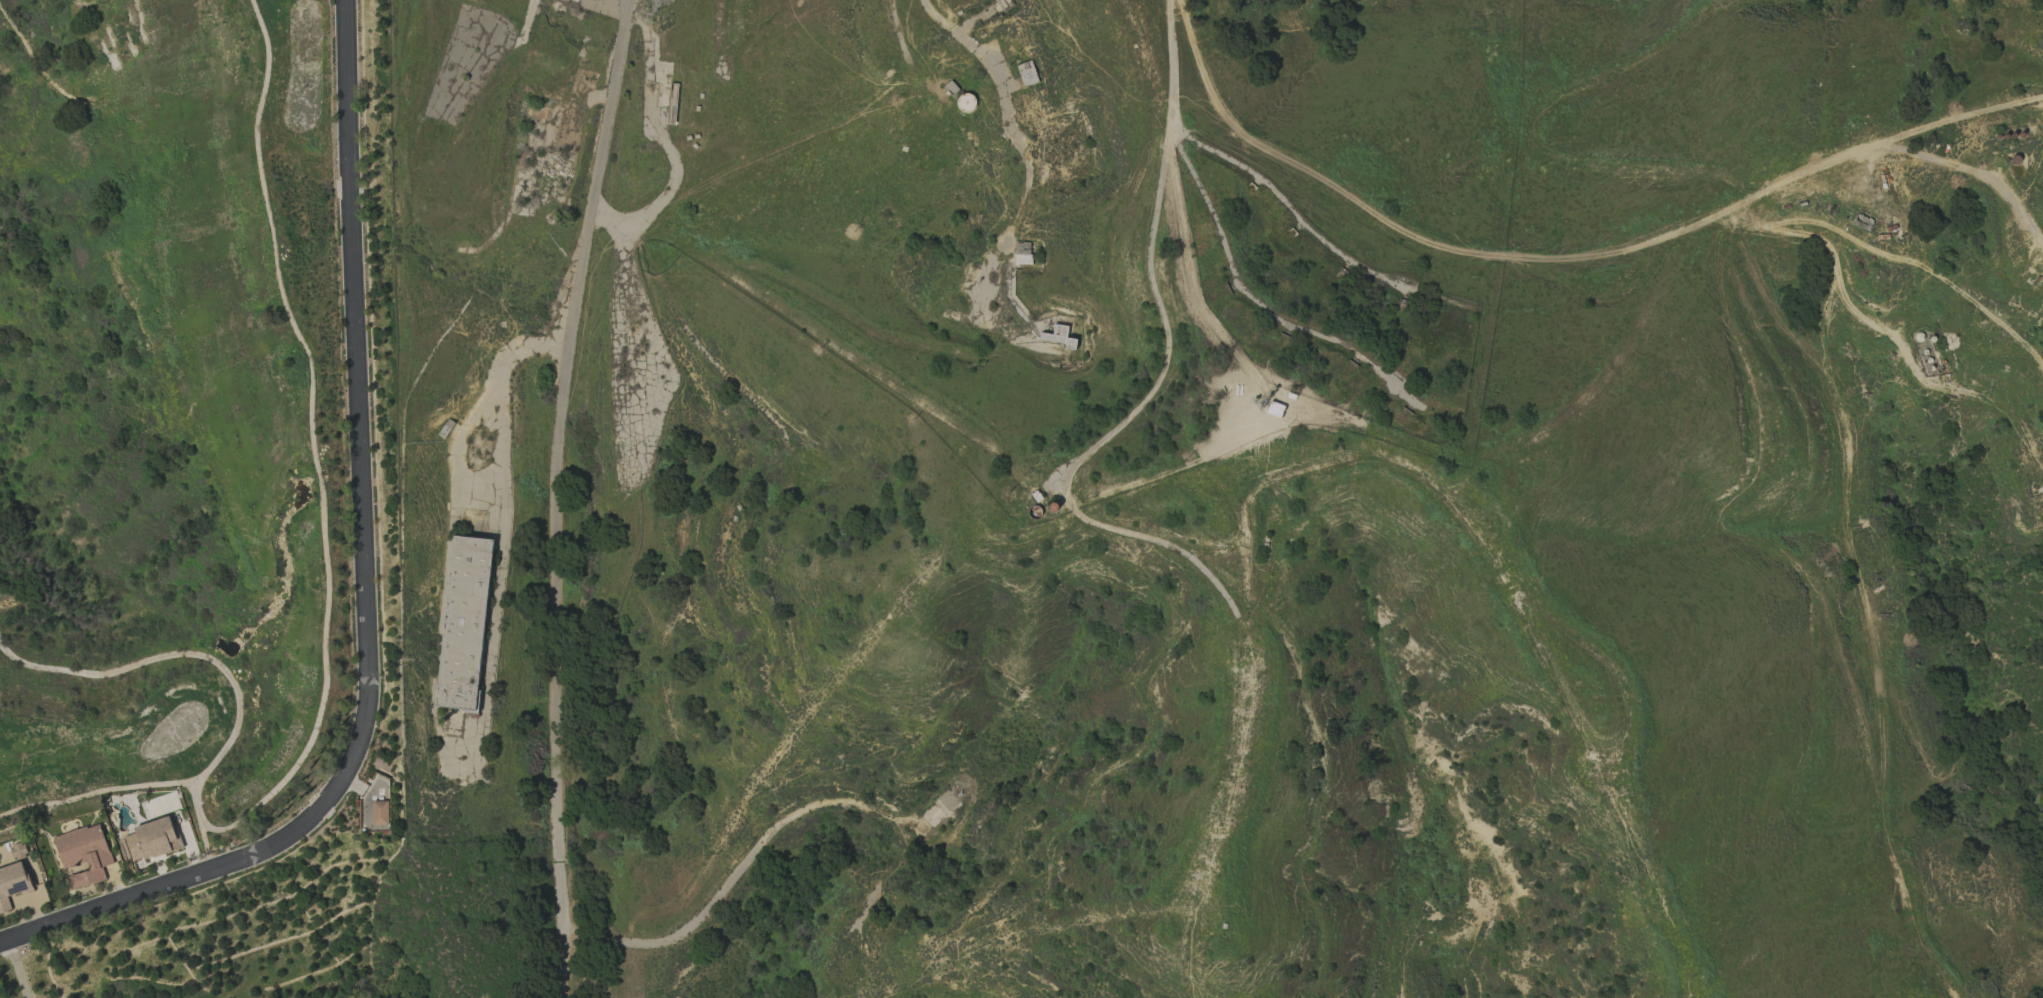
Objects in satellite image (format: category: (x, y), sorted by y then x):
road: (1006, 111)
road: (1311, 223)
road: (1565, 250)
building: (1058, 337)
road: (1163, 374)
park: (162, 404)
road: (363, 408)
building: (1274, 409)
road: (1430, 486)
road: (559, 496)
building: (463, 623)
road: (1235, 768)
building: (380, 812)
building: (152, 839)
building: (18, 851)
building: (83, 854)
road: (741, 873)
road: (166, 883)
building: (11, 884)

